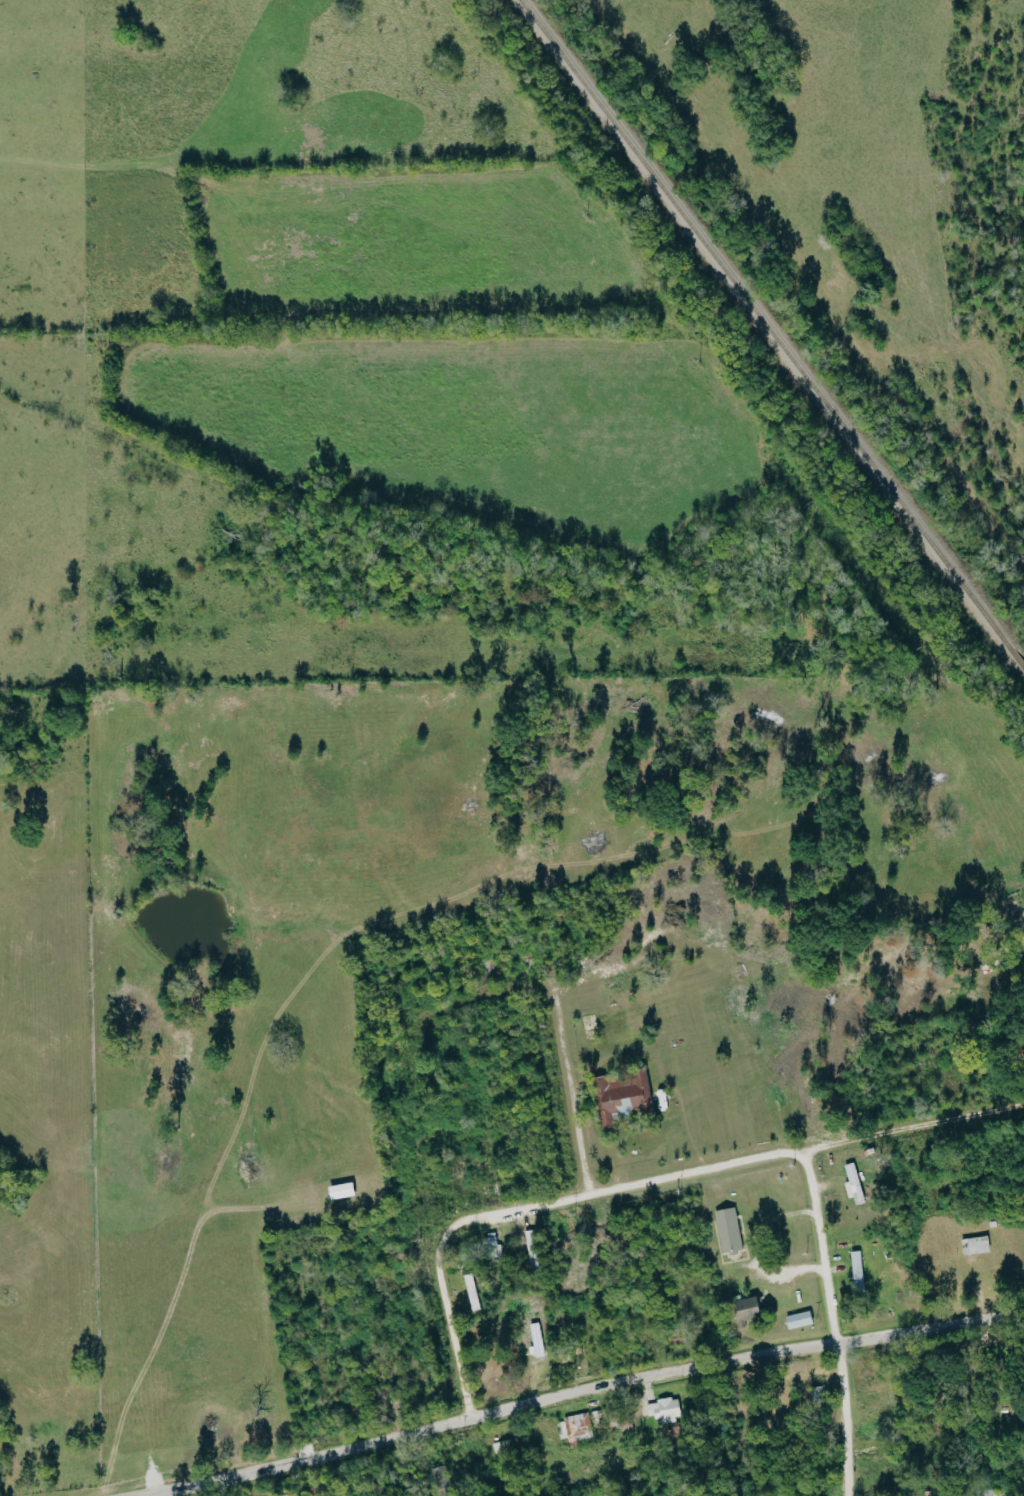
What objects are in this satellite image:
railway: (762, 322)
railway: (1015, 658)
building: (621, 1094)
road: (568, 1096)
road: (638, 1181)
building: (854, 1184)
building: (728, 1229)
building: (492, 1245)
building: (976, 1245)
building: (747, 1309)
building: (799, 1320)
road: (829, 1322)
road: (575, 1391)
building: (665, 1410)
building: (574, 1428)
building: (439, 1478)
building: (993, 1493)

